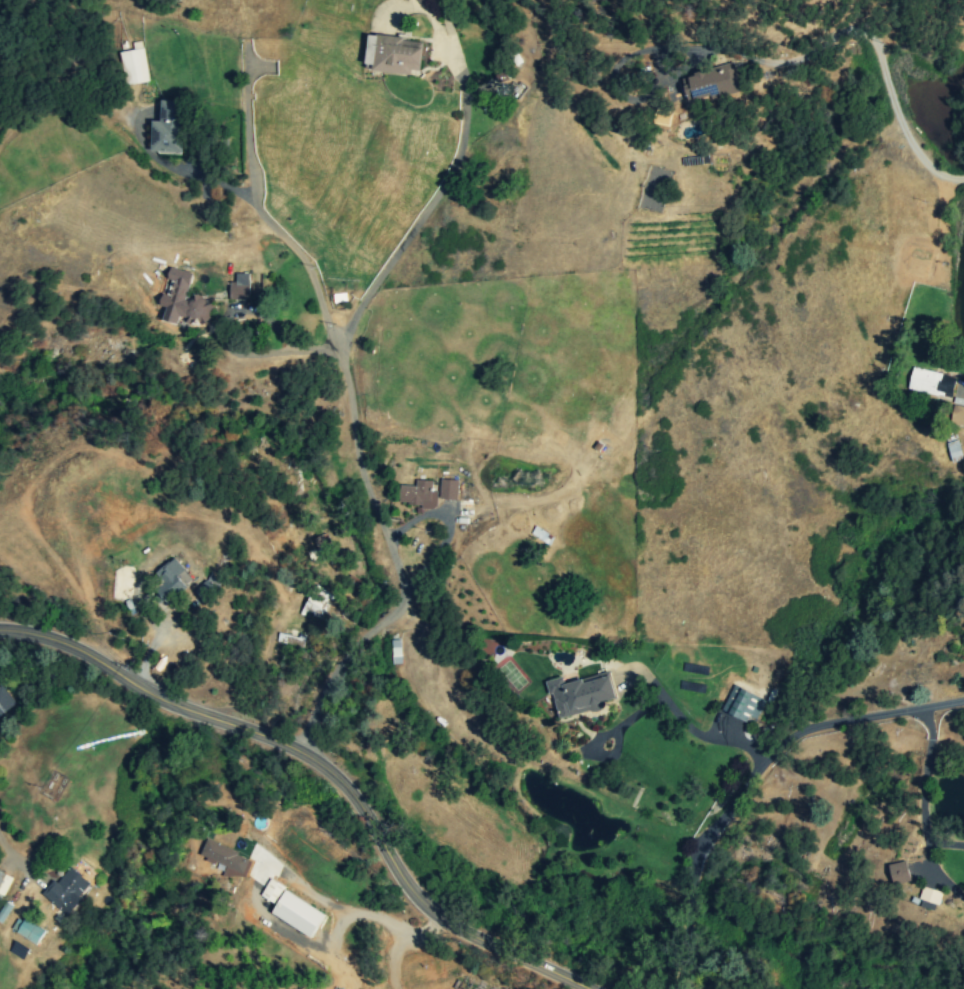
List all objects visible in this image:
building: (406, 0)
building: (419, 1)
road: (821, 47)
building: (394, 55)
building: (133, 67)
building: (712, 83)
building: (168, 128)
road: (906, 136)
road: (283, 237)
building: (240, 287)
building: (195, 309)
road: (282, 335)
road: (962, 375)
building: (932, 383)
building: (957, 415)
road: (351, 416)
building: (954, 451)
building: (448, 489)
building: (418, 494)
road: (447, 529)
building: (169, 581)
building: (208, 587)
building: (316, 605)
building: (581, 694)
building: (5, 701)
road: (653, 703)
building: (742, 704)
road: (325, 766)
road: (747, 774)
road: (920, 792)
road: (13, 859)
building: (227, 859)
road: (271, 871)
building: (899, 872)
building: (4, 883)
building: (65, 889)
building: (929, 899)
building: (293, 909)
building: (5, 911)
building: (27, 930)

